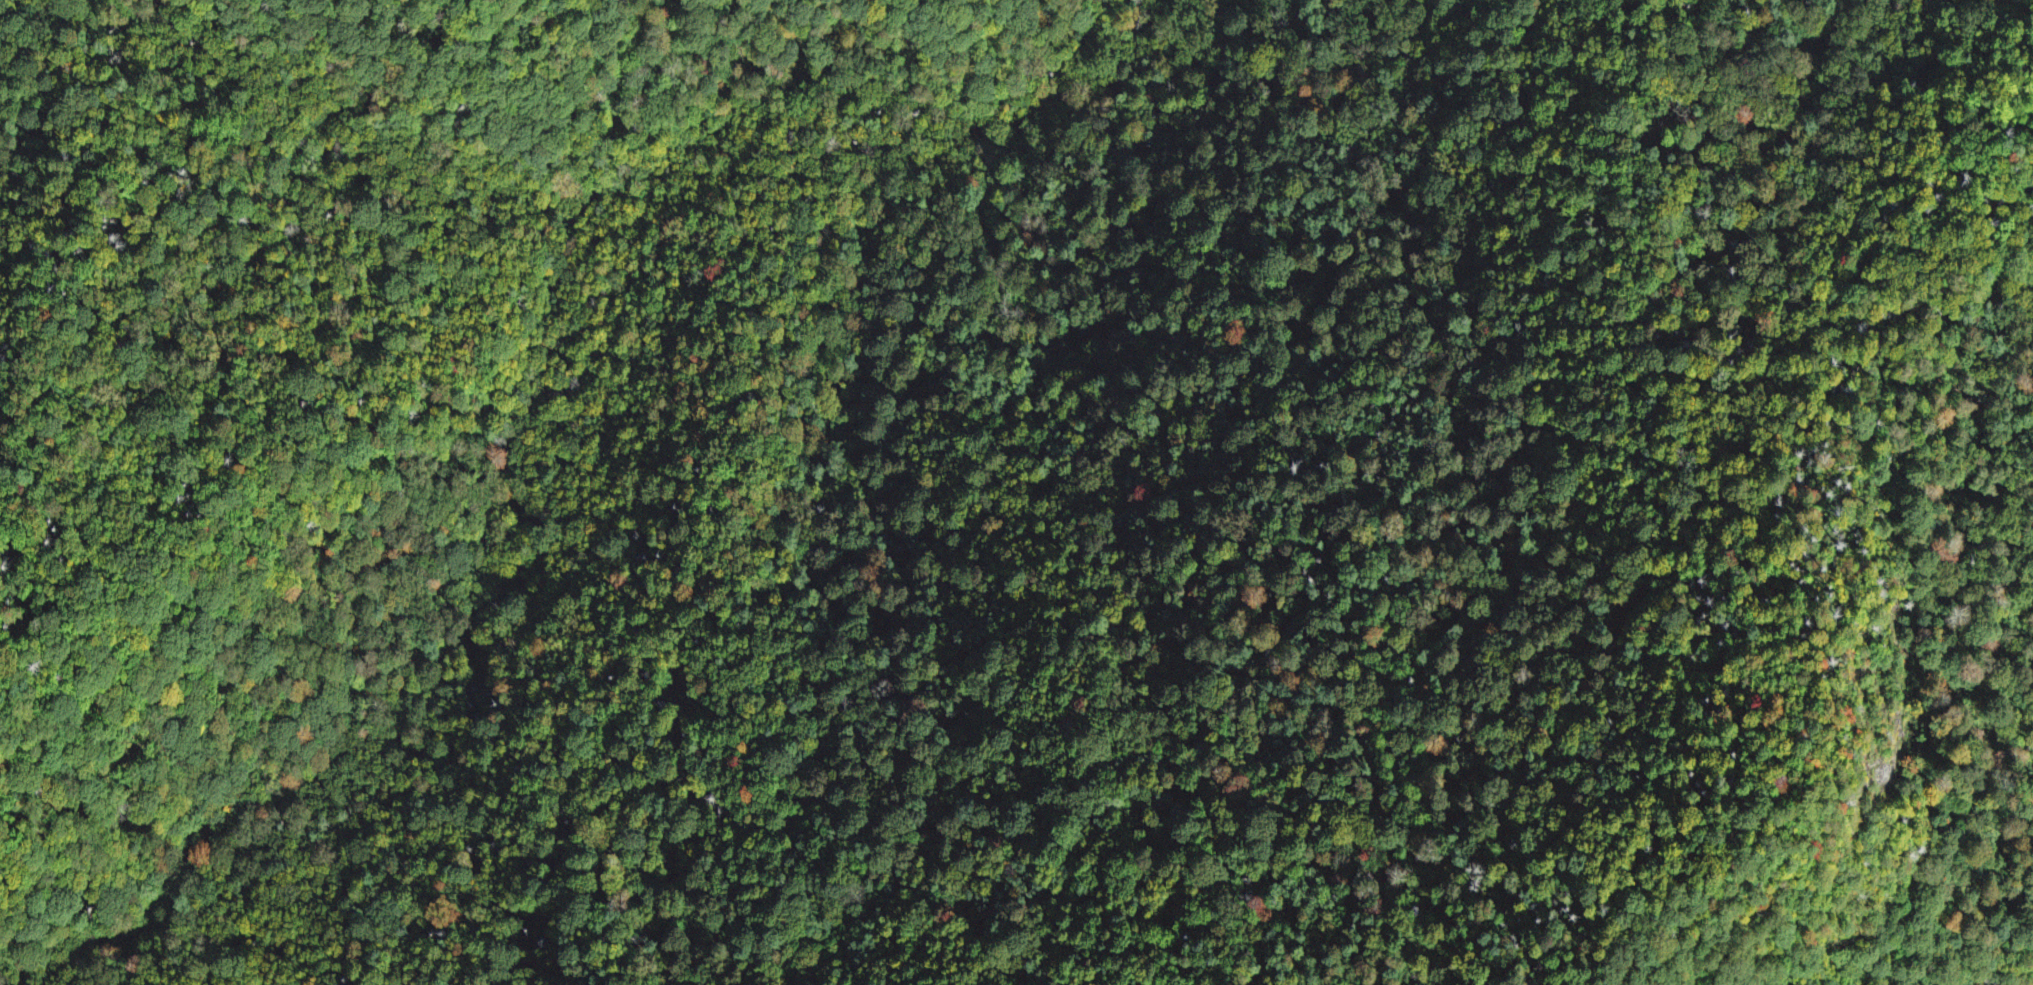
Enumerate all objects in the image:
road: (613, 129)

